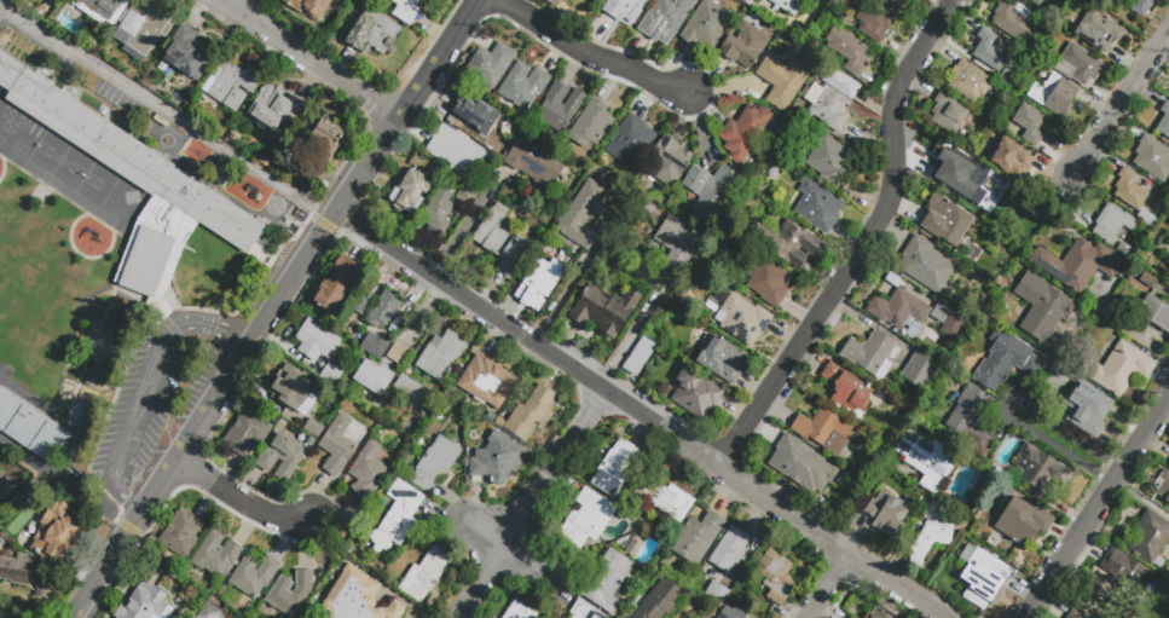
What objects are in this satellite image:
building: (913, 0)
building: (554, 2)
building: (748, 2)
building: (1040, 2)
road: (237, 4)
building: (789, 5)
building: (898, 5)
building: (1141, 6)
building: (311, 7)
building: (624, 8)
building: (105, 11)
building: (406, 11)
building: (667, 18)
building: (1014, 22)
building: (874, 24)
building: (707, 28)
building: (144, 29)
building: (372, 34)
building: (1099, 34)
building: (746, 47)
building: (22, 48)
building: (849, 51)
building: (993, 52)
building: (191, 56)
road: (586, 57)
road: (312, 58)
building: (491, 68)
building: (1080, 68)
building: (1011, 80)
building: (785, 82)
building: (233, 85)
building: (971, 85)
building: (523, 88)
building: (1059, 98)
road: (1118, 103)
road: (168, 110)
building: (272, 110)
building: (559, 110)
building: (832, 110)
building: (478, 116)
building: (949, 117)
building: (160, 120)
building: (1164, 123)
building: (1031, 126)
building: (592, 127)
building: (745, 135)
building: (632, 144)
building: (498, 150)
building: (323, 151)
building: (457, 154)
building: (1012, 158)
building: (1153, 161)
building: (832, 163)
building: (209, 164)
building: (670, 164)
building: (536, 166)
building: (160, 180)
building: (971, 183)
building: (411, 189)
building: (712, 192)
building: (469, 197)
building: (1135, 200)
building: (439, 209)
building: (818, 209)
building: (1158, 209)
building: (584, 218)
building: (951, 225)
building: (1113, 226)
road: (458, 231)
building: (503, 243)
road: (864, 243)
building: (679, 244)
building: (788, 246)
building: (1124, 249)
road: (306, 264)
building: (926, 266)
building: (1080, 267)
building: (1150, 283)
building: (770, 285)
building: (338, 287)
building: (536, 293)
building: (363, 302)
building: (1043, 308)
building: (384, 312)
building: (607, 312)
building: (899, 312)
building: (1156, 314)
building: (745, 322)
building: (955, 328)
road: (632, 330)
building: (317, 343)
building: (376, 348)
building: (870, 354)
building: (399, 356)
building: (441, 358)
building: (717, 358)
building: (641, 359)
building: (1007, 363)
building: (1119, 371)
building: (922, 374)
building: (331, 377)
building: (375, 380)
building: (89, 381)
building: (486, 381)
building: (293, 383)
road: (150, 388)
building: (411, 391)
building: (847, 392)
building: (698, 398)
building: (7, 406)
building: (1087, 408)
building: (532, 416)
road: (641, 417)
building: (82, 420)
building: (972, 421)
building: (312, 422)
building: (498, 422)
building: (25, 426)
building: (824, 433)
road: (1066, 435)
building: (248, 437)
building: (50, 441)
building: (74, 449)
building: (338, 449)
road: (1058, 450)
building: (498, 458)
building: (283, 460)
building: (928, 462)
building: (803, 463)
building: (1168, 464)
building: (435, 466)
building: (615, 470)
building: (1041, 470)
building: (369, 473)
building: (0, 479)
road: (63, 485)
building: (1164, 489)
road: (247, 498)
building: (666, 501)
road: (536, 506)
road: (1098, 508)
building: (887, 515)
building: (398, 519)
building: (589, 521)
building: (1024, 524)
building: (57, 530)
building: (933, 533)
building: (183, 536)
building: (1151, 539)
building: (699, 541)
building: (731, 553)
building: (216, 558)
road: (99, 572)
building: (22, 574)
building: (255, 578)
building: (427, 578)
building: (777, 579)
building: (984, 581)
building: (1117, 581)
building: (608, 584)
road: (838, 588)
building: (291, 595)
building: (717, 596)
building: (358, 597)
building: (141, 602)
building: (662, 602)
building: (520, 612)
building: (586, 612)
building: (209, 613)
building: (734, 613)
building: (878, 614)
building: (1075, 616)
building: (562, 617)

